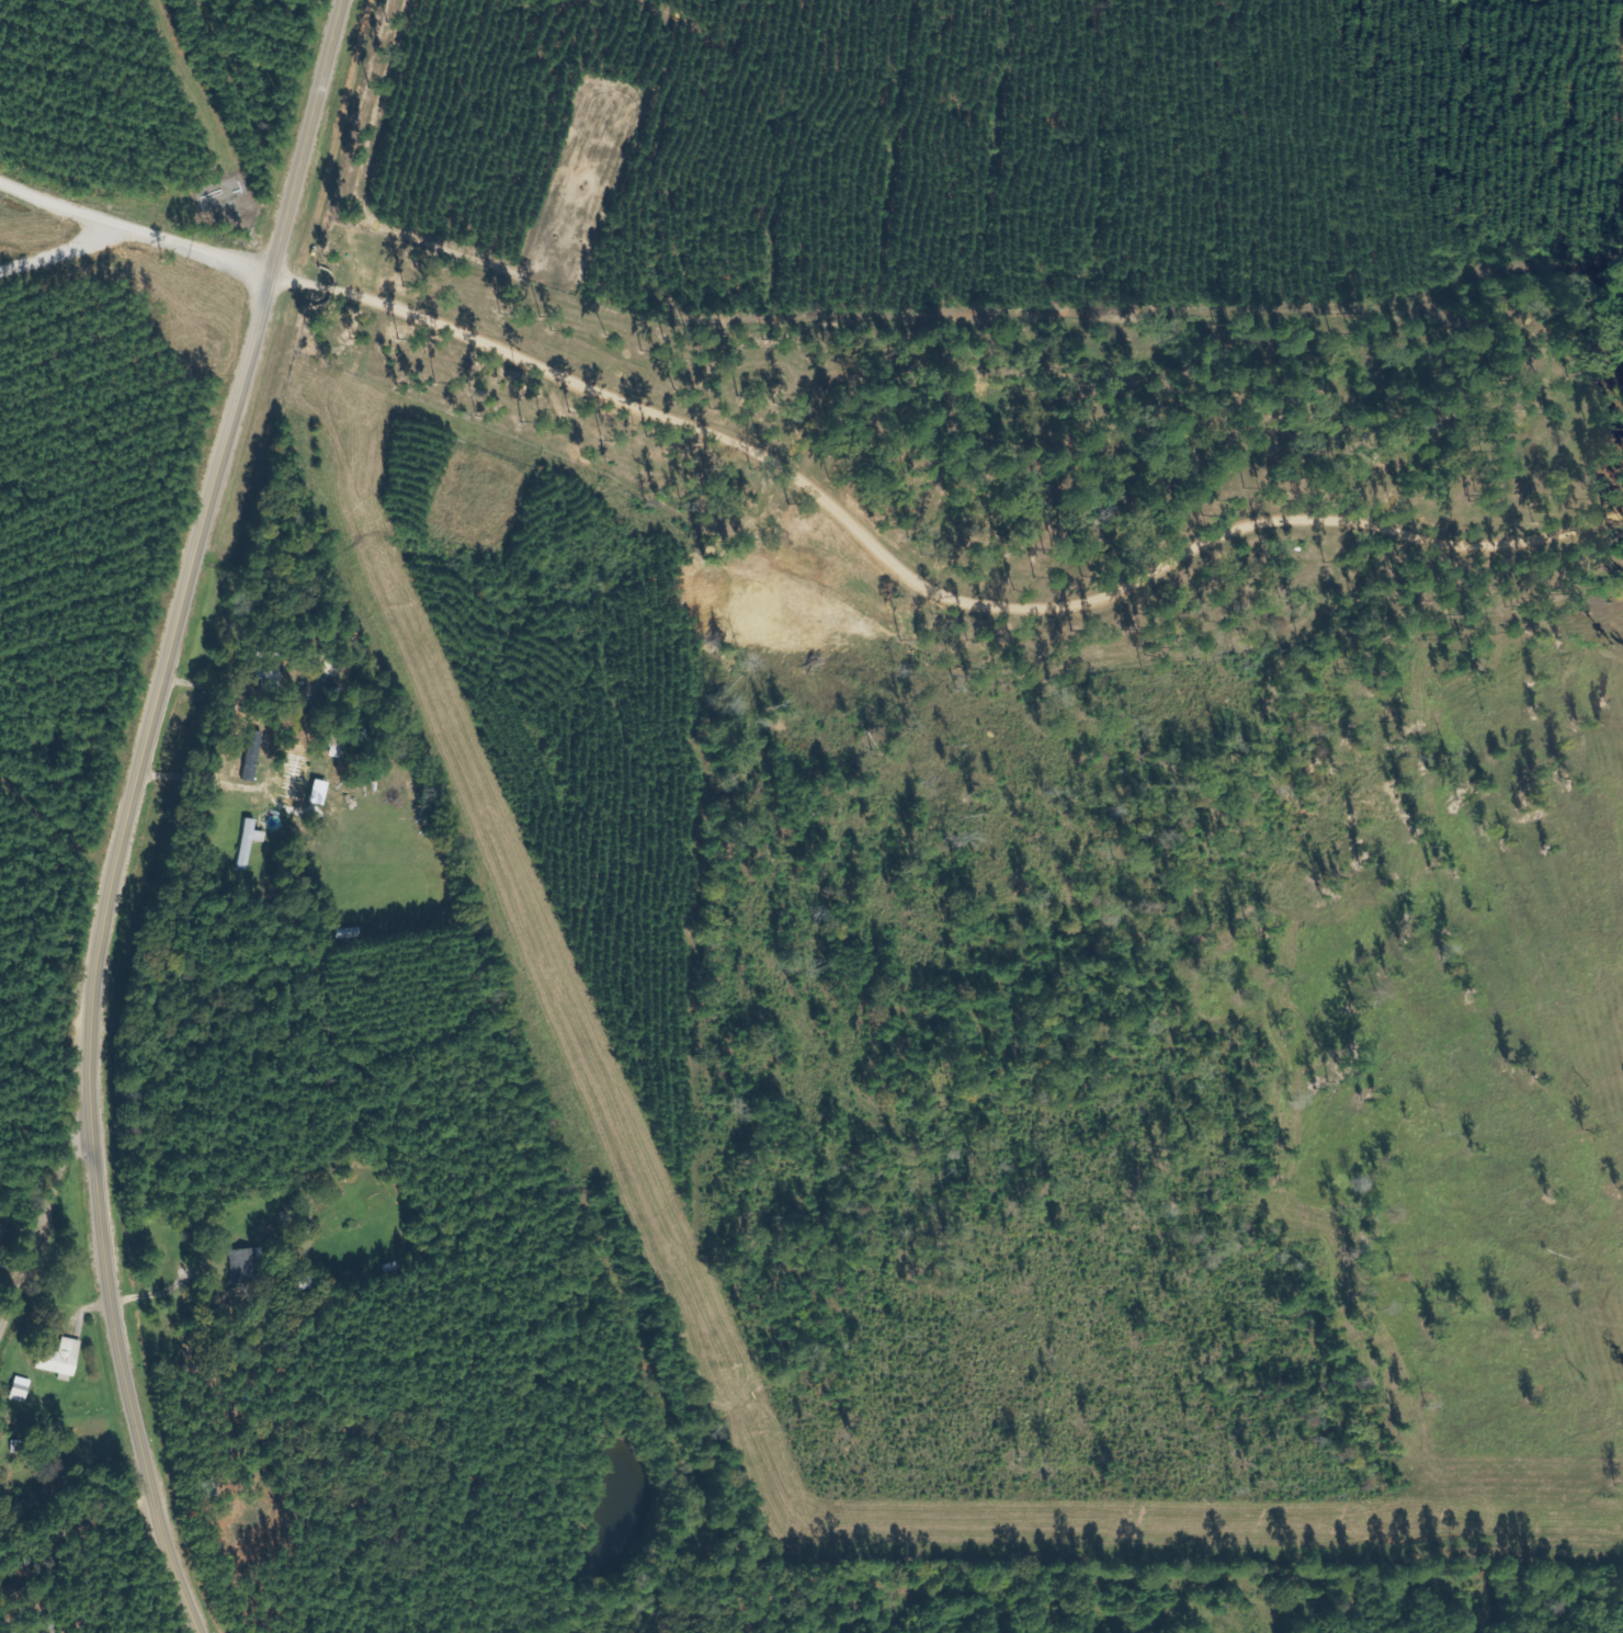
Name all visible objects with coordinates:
road: (921, 588)
building: (259, 761)
building: (306, 786)
road: (127, 812)
building: (259, 832)
road: (41, 1224)
building: (2, 1255)
building: (249, 1267)
building: (68, 1359)
building: (26, 1391)

